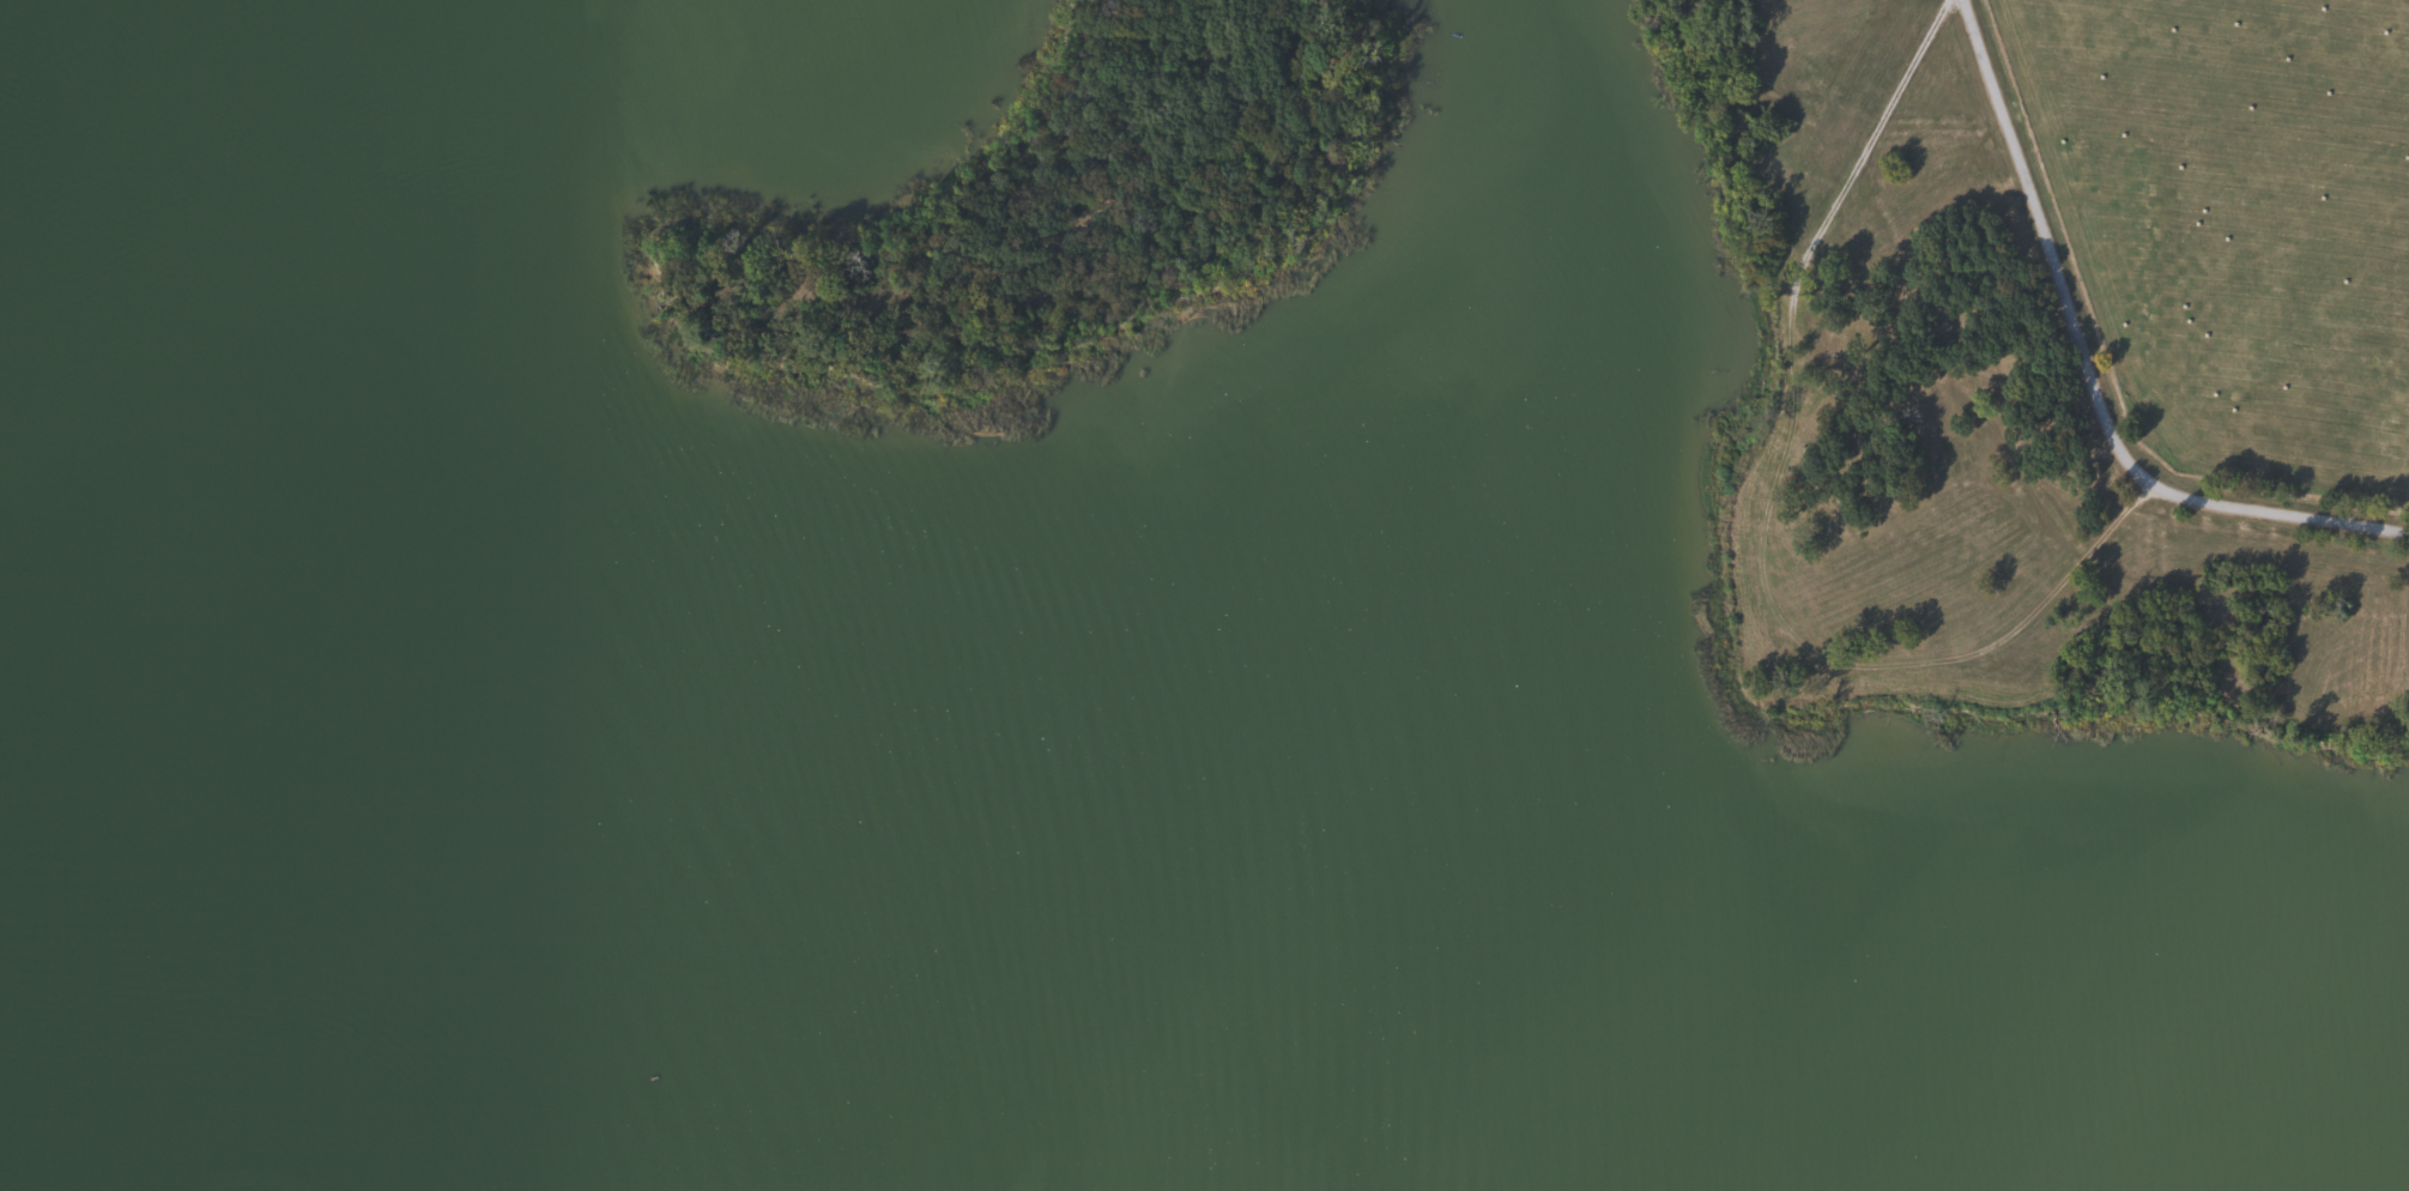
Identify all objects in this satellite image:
road: (2092, 374)
road: (1761, 521)
building: (855, 772)
building: (1202, 941)

